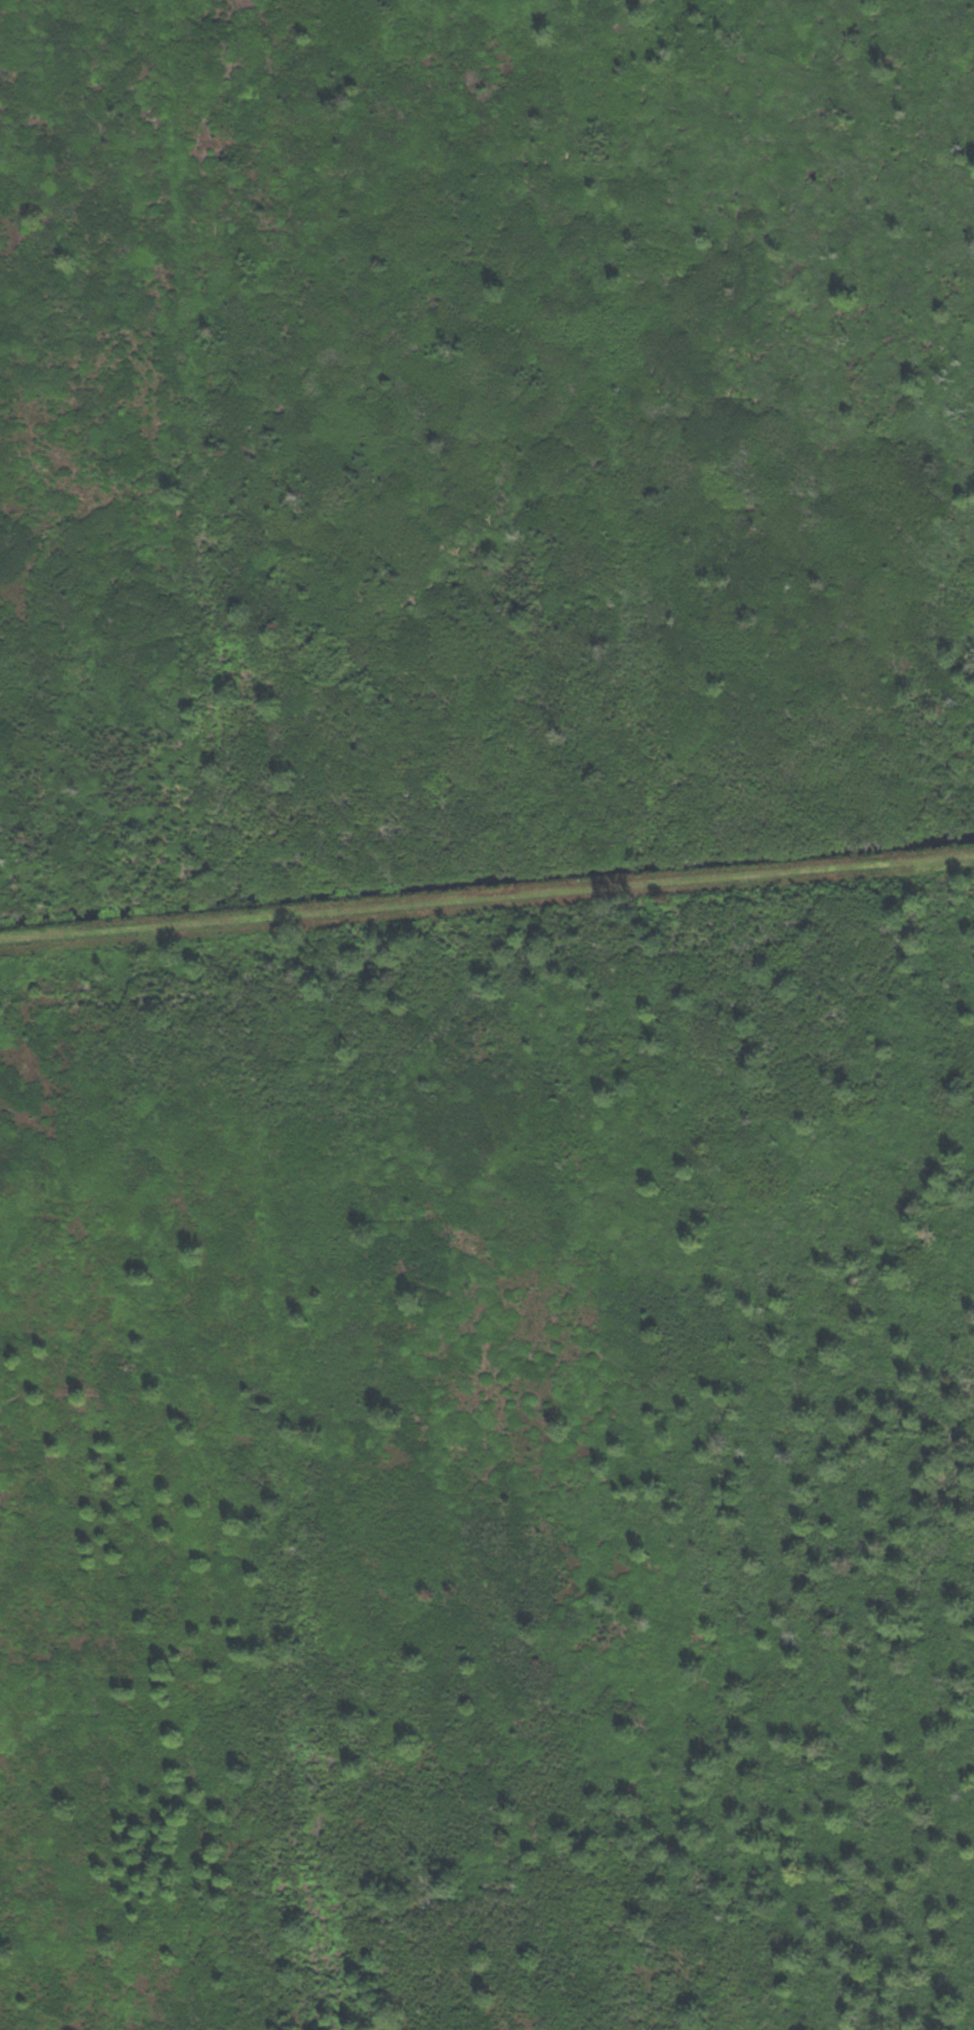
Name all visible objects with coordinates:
road: (487, 893)

